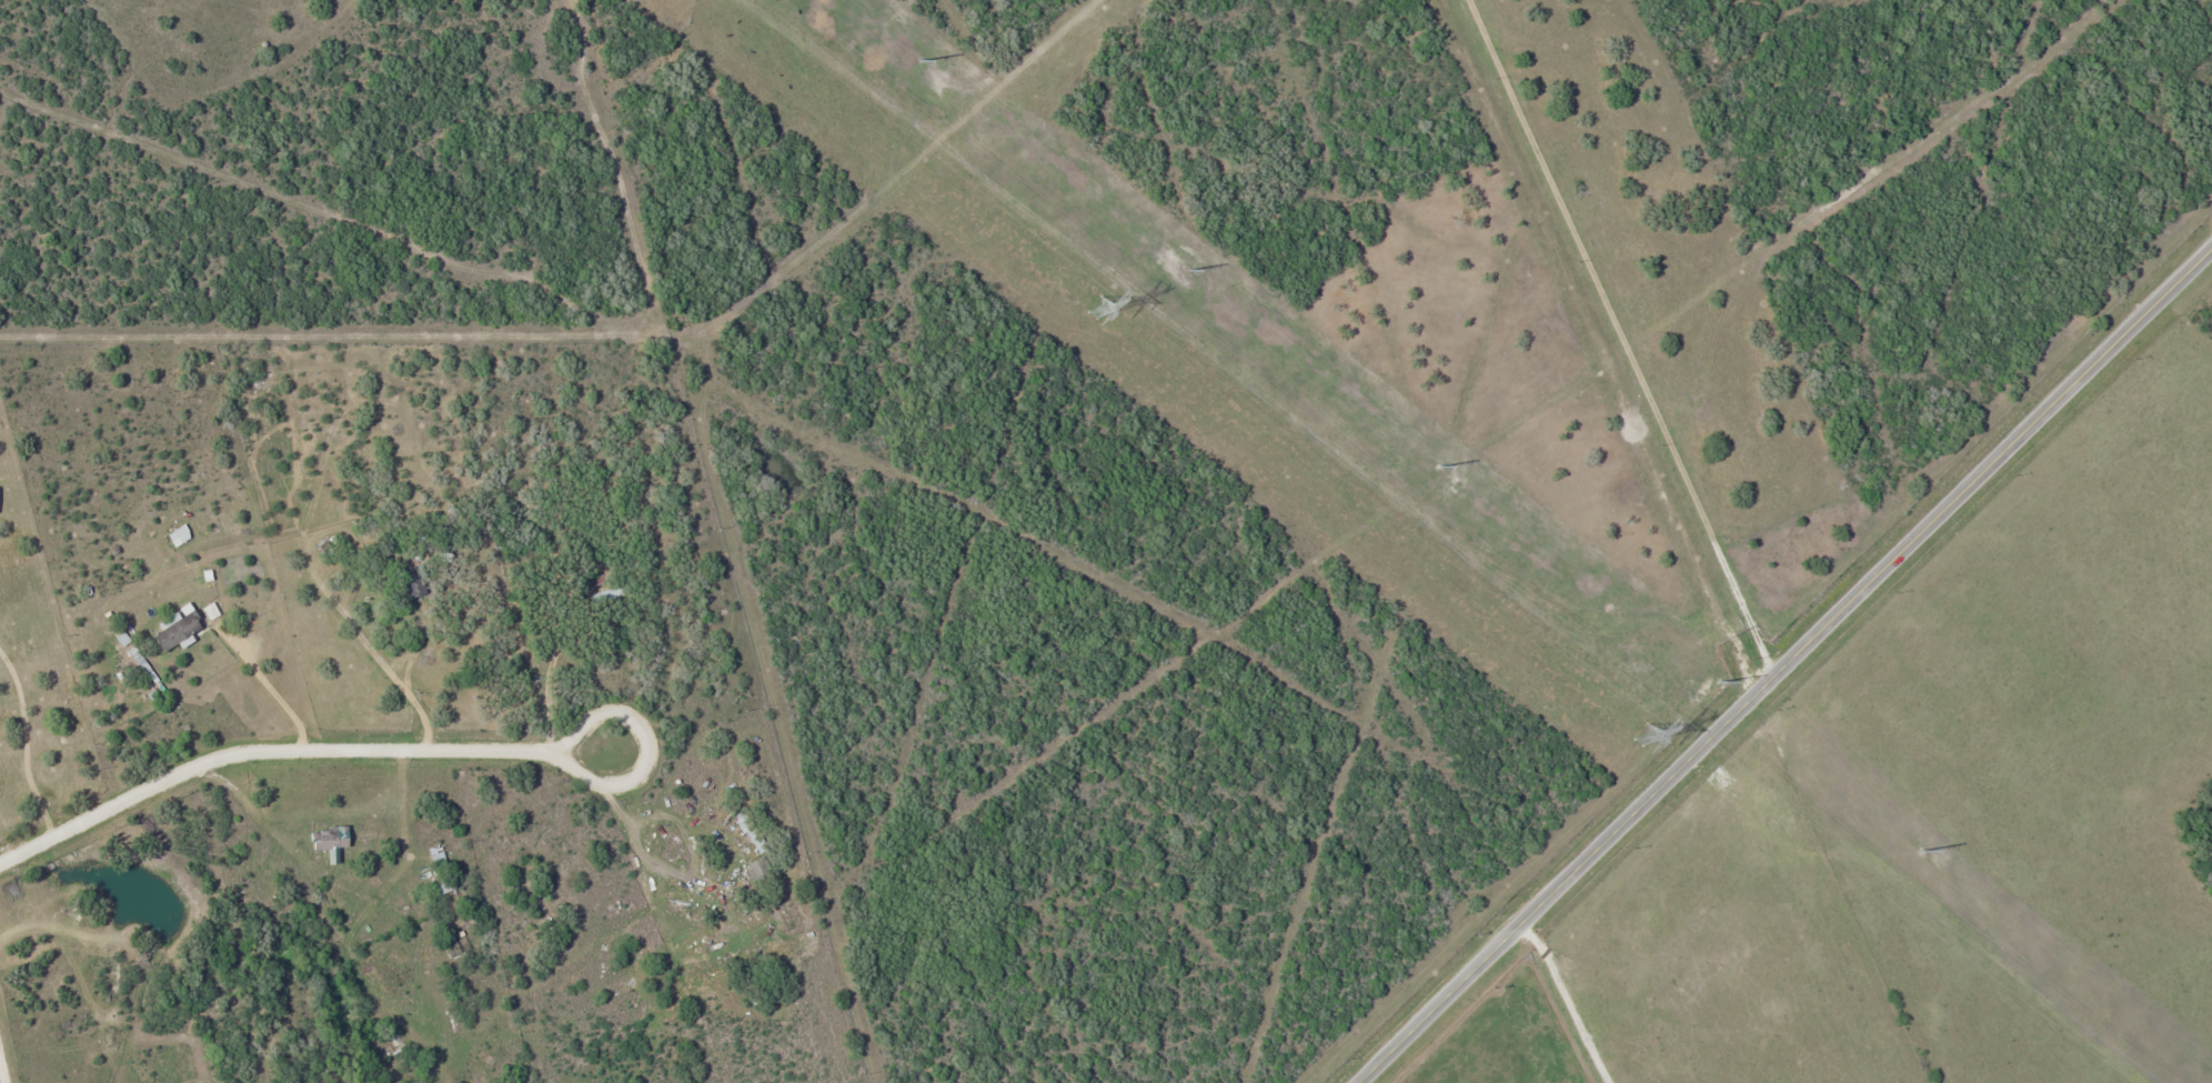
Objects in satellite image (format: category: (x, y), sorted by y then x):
power tower: (1096, 307)
building: (179, 535)
building: (413, 582)
building: (607, 594)
road: (1788, 670)
power tower: (1643, 735)
road: (265, 750)
road: (642, 772)
building: (747, 828)
building: (328, 840)
building: (436, 856)
building: (755, 869)
building: (444, 890)

